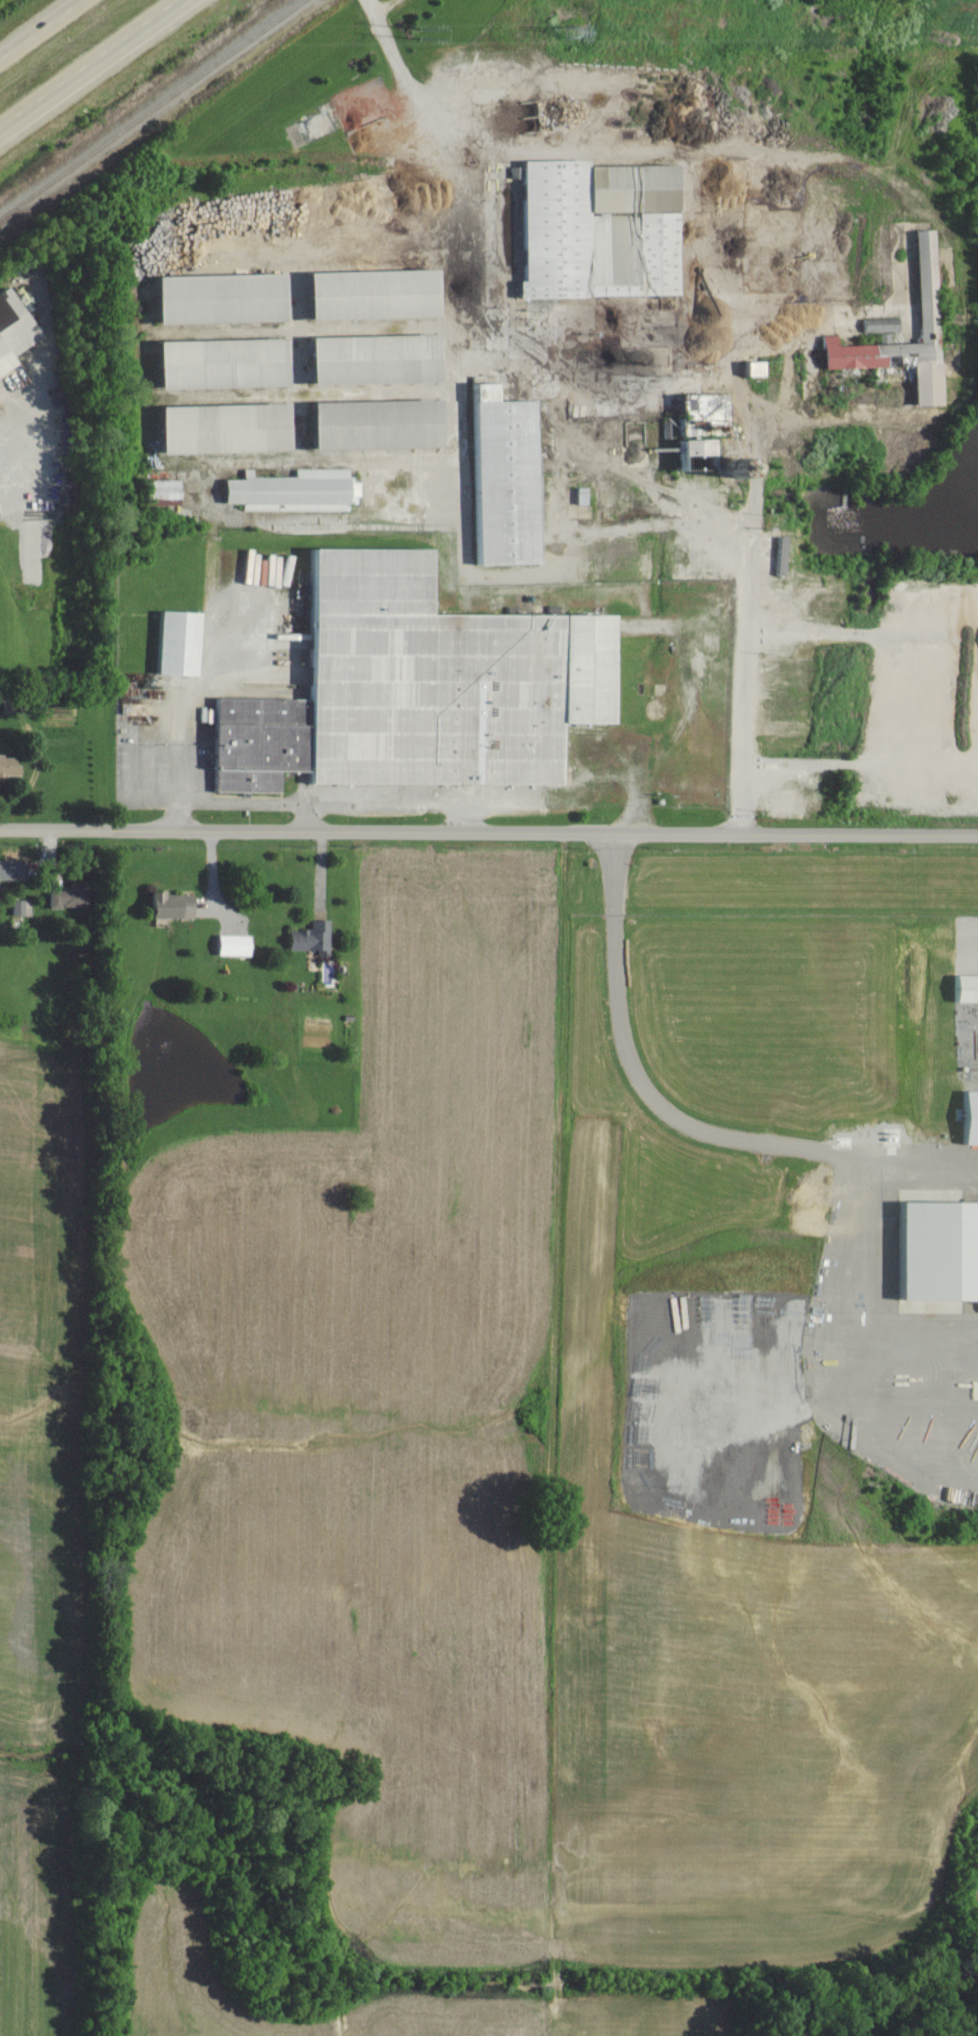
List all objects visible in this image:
road: (44, 32)
road: (91, 64)
railway: (152, 108)
building: (594, 231)
building: (924, 282)
building: (364, 296)
building: (210, 300)
building: (880, 325)
building: (16, 331)
building: (365, 361)
building: (212, 365)
building: (751, 370)
road: (730, 385)
building: (367, 426)
building: (214, 430)
road: (571, 431)
building: (685, 457)
building: (498, 479)
building: (159, 492)
building: (176, 643)
building: (12, 766)
road: (316, 812)
road: (302, 821)
road: (489, 832)
building: (14, 870)
building: (67, 897)
building: (166, 906)
building: (24, 908)
building: (310, 938)
building: (233, 945)
building: (964, 989)
building: (967, 1117)
road: (677, 1120)
building: (934, 1251)

